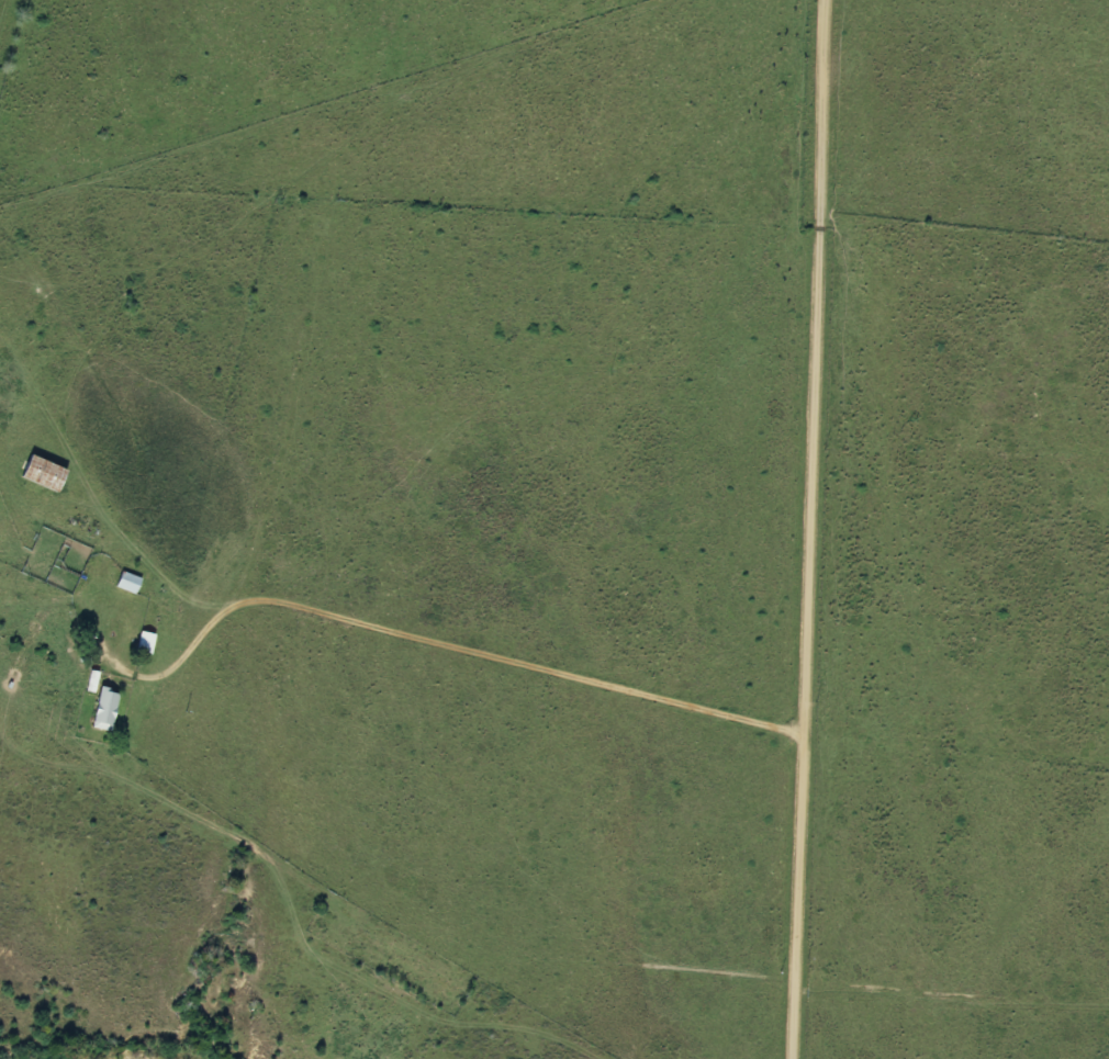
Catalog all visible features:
building: (44, 473)
road: (813, 529)
building: (130, 583)
road: (448, 640)
building: (146, 642)
building: (105, 710)

